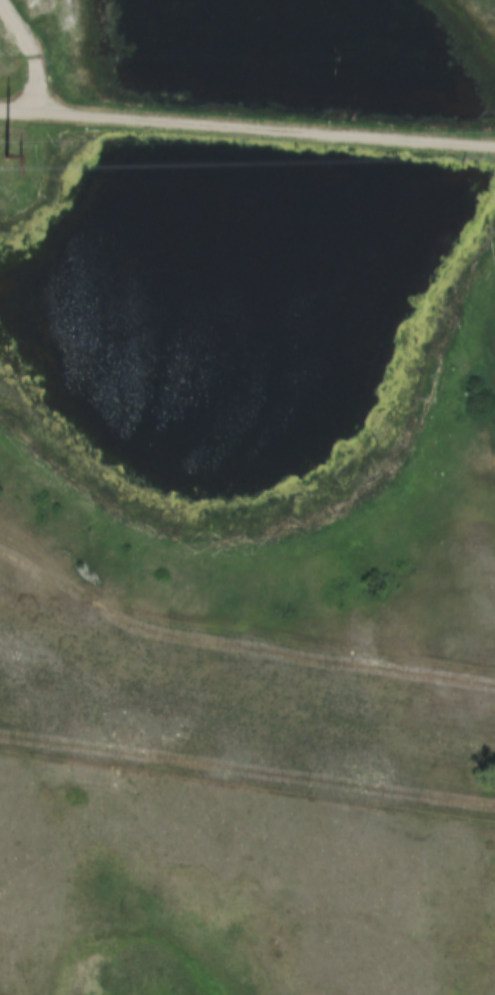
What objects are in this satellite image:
road: (35, 53)
road: (247, 127)
power tower: (10, 151)

